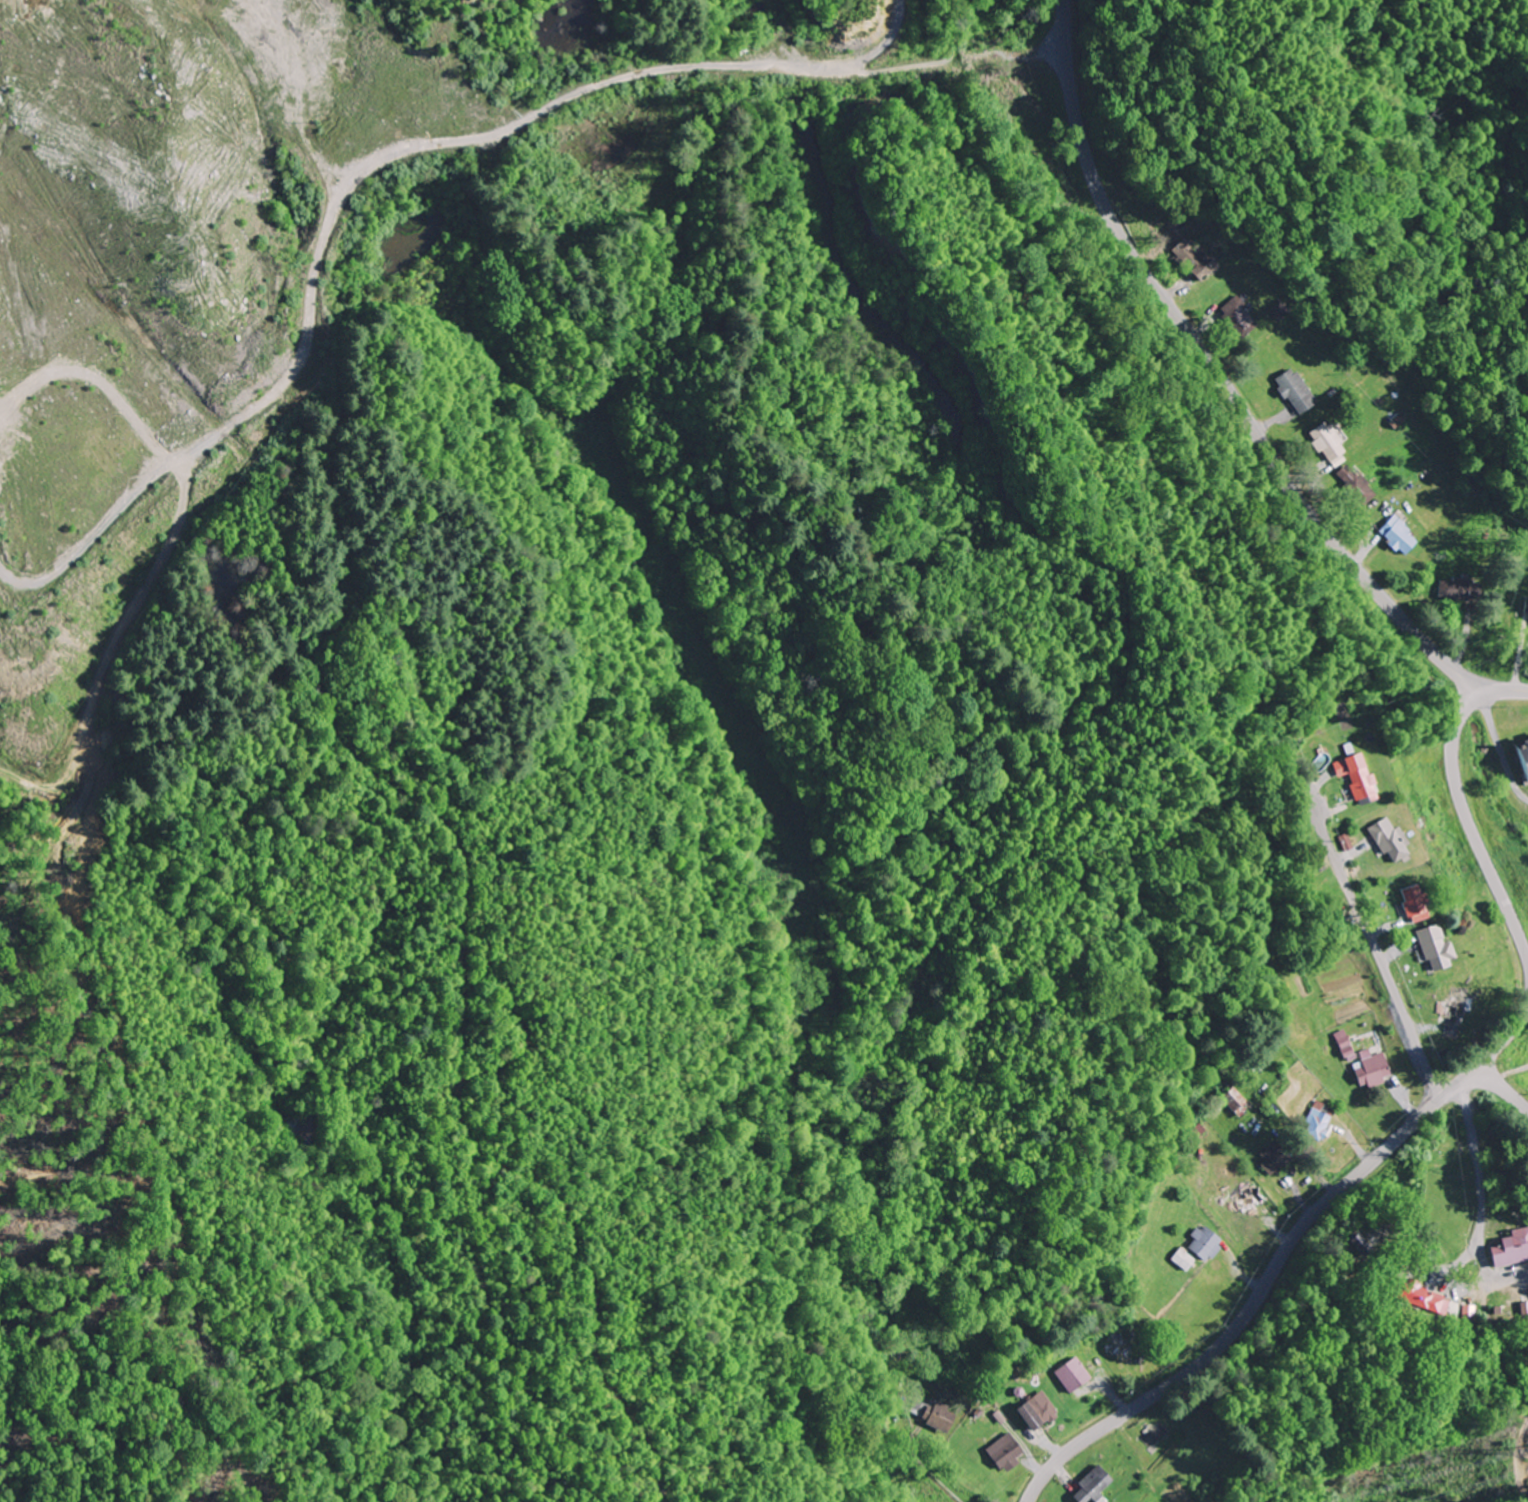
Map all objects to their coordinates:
road: (753, 70)
road: (1472, 105)
building: (1187, 252)
building: (1235, 317)
road: (1221, 373)
building: (1294, 389)
building: (1326, 441)
building: (1353, 484)
building: (1397, 534)
building: (1454, 589)
building: (1527, 608)
building: (1520, 757)
building: (1354, 777)
road: (1461, 799)
building: (1387, 840)
road: (1375, 943)
building: (1433, 947)
building: (1452, 1007)
building: (1371, 1070)
road: (1504, 1086)
building: (1233, 1100)
road: (460, 1103)
building: (1316, 1119)
building: (1273, 1156)
road: (1482, 1174)
building: (1245, 1195)
building: (1203, 1242)
building: (1510, 1246)
road: (1279, 1259)
building: (1070, 1373)
building: (1034, 1409)
building: (936, 1414)
building: (1002, 1453)
road: (926, 1468)
building: (1092, 1484)

